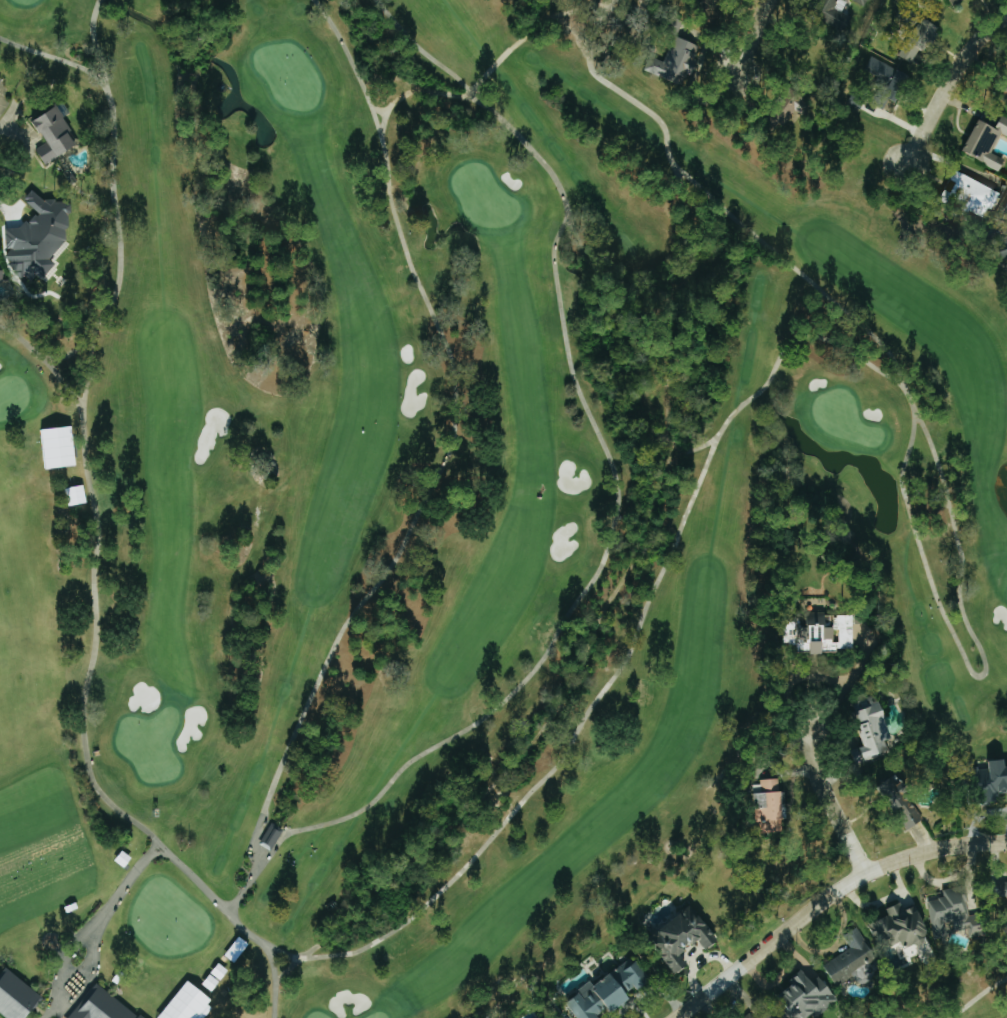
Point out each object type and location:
park: (21, 1)
building: (953, 1)
building: (860, 2)
building: (709, 9)
road: (557, 16)
building: (838, 17)
road: (757, 44)
building: (914, 49)
road: (54, 56)
building: (672, 60)
road: (490, 69)
park: (288, 76)
building: (889, 76)
building: (1, 81)
road: (412, 90)
road: (467, 92)
road: (950, 92)
road: (460, 94)
building: (1005, 94)
road: (379, 108)
road: (383, 111)
road: (384, 119)
building: (52, 133)
building: (988, 143)
road: (677, 173)
road: (681, 173)
building: (978, 194)
park: (483, 198)
building: (1006, 208)
building: (39, 237)
building: (1006, 251)
building: (2, 279)
road: (89, 340)
road: (68, 354)
road: (49, 360)
road: (47, 362)
road: (899, 379)
park: (843, 418)
road: (917, 419)
road: (705, 443)
road: (451, 448)
road: (679, 451)
road: (905, 459)
road: (616, 478)
park: (437, 502)
road: (98, 542)
road: (605, 606)
building: (818, 631)
building: (867, 729)
park: (149, 744)
building: (985, 780)
road: (833, 791)
building: (766, 804)
road: (265, 816)
road: (260, 829)
road: (287, 829)
building: (269, 835)
road: (160, 850)
road: (260, 850)
road: (259, 858)
road: (133, 873)
road: (241, 892)
road: (829, 900)
building: (1005, 902)
road: (226, 903)
road: (234, 911)
building: (953, 915)
building: (901, 928)
building: (678, 937)
road: (274, 951)
road: (307, 952)
building: (849, 958)
road: (287, 969)
road: (57, 981)
building: (605, 990)
park: (942, 995)
building: (15, 996)
building: (806, 997)
building: (100, 1005)
park: (316, 1015)
building: (766, 1015)
park: (377, 1016)
building: (546, 1017)

